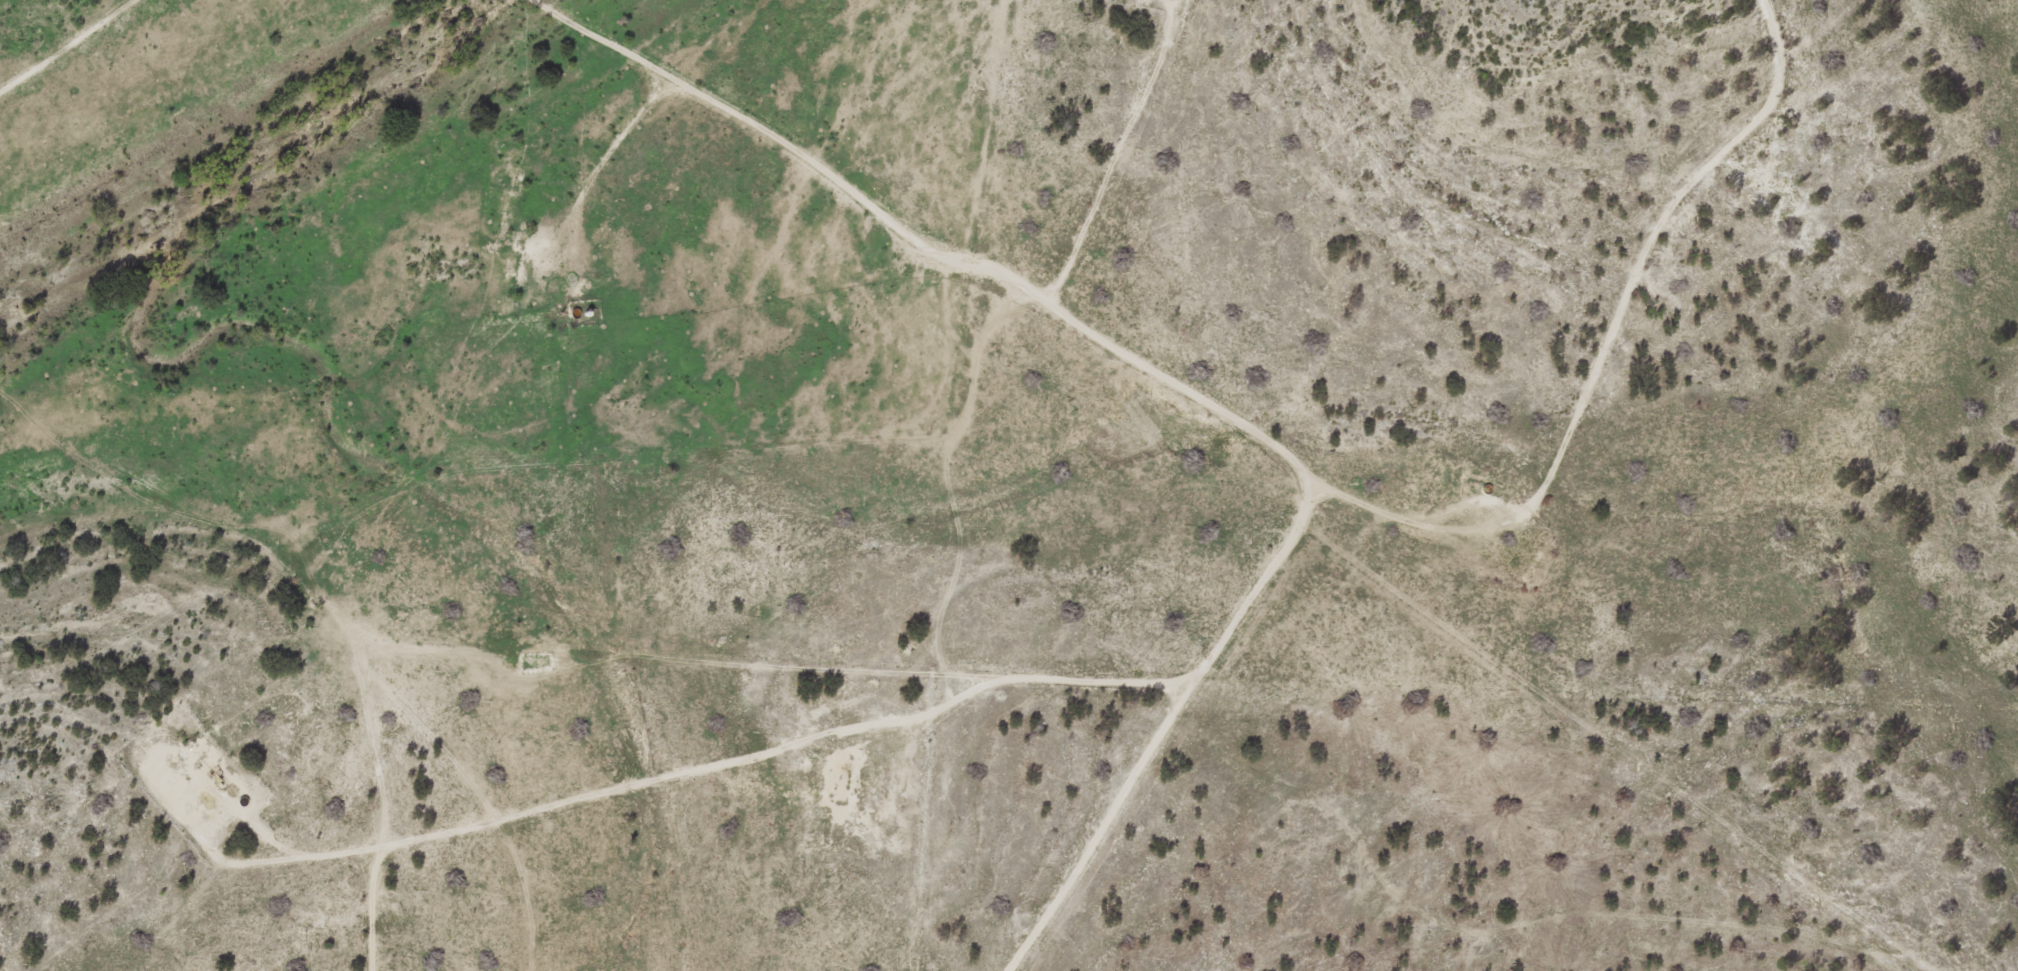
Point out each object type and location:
road: (52, 37)
river: (289, 182)
road: (1159, 386)

